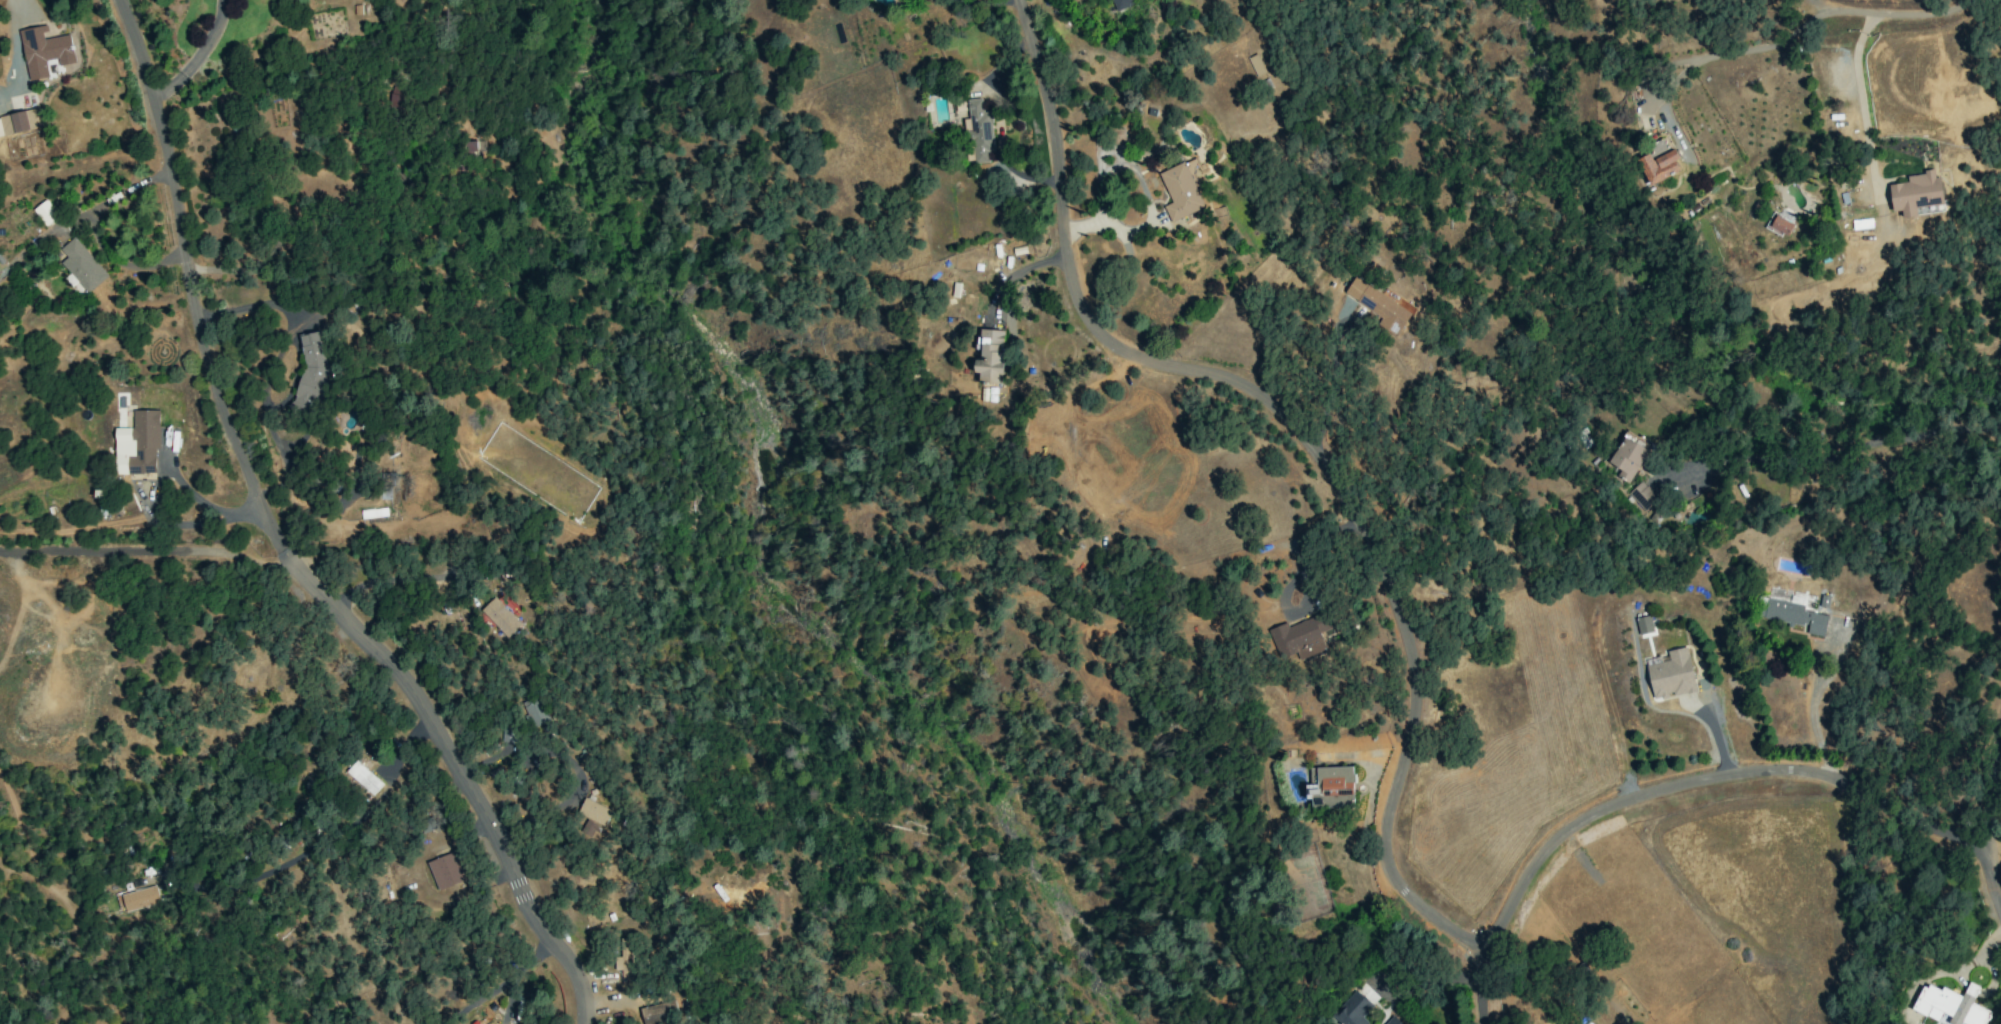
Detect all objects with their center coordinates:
road: (1822, 5)
road: (1803, 22)
building: (46, 52)
road: (197, 56)
building: (1255, 65)
building: (394, 97)
road: (1862, 102)
building: (19, 122)
building: (979, 132)
building: (1657, 149)
building: (1659, 167)
building: (1180, 192)
building: (1916, 195)
road: (297, 221)
building: (1778, 225)
building: (81, 265)
building: (1378, 305)
building: (990, 356)
road: (1330, 380)
building: (143, 442)
road: (1833, 453)
building: (1627, 458)
road: (1322, 462)
road: (150, 481)
building: (1642, 495)
building: (373, 513)
road: (276, 547)
road: (110, 552)
road: (254, 562)
building: (1824, 601)
building: (1795, 616)
building: (1643, 625)
building: (1300, 637)
building: (537, 714)
road: (1813, 721)
building: (509, 734)
building: (363, 778)
road: (1706, 782)
building: (1331, 787)
building: (592, 816)
road: (1994, 825)
road: (327, 842)
building: (445, 871)
building: (139, 898)
building: (625, 962)
building: (1950, 1005)
building: (1352, 1010)
building: (658, 1013)
building: (1392, 1021)
building: (1372, 1023)

